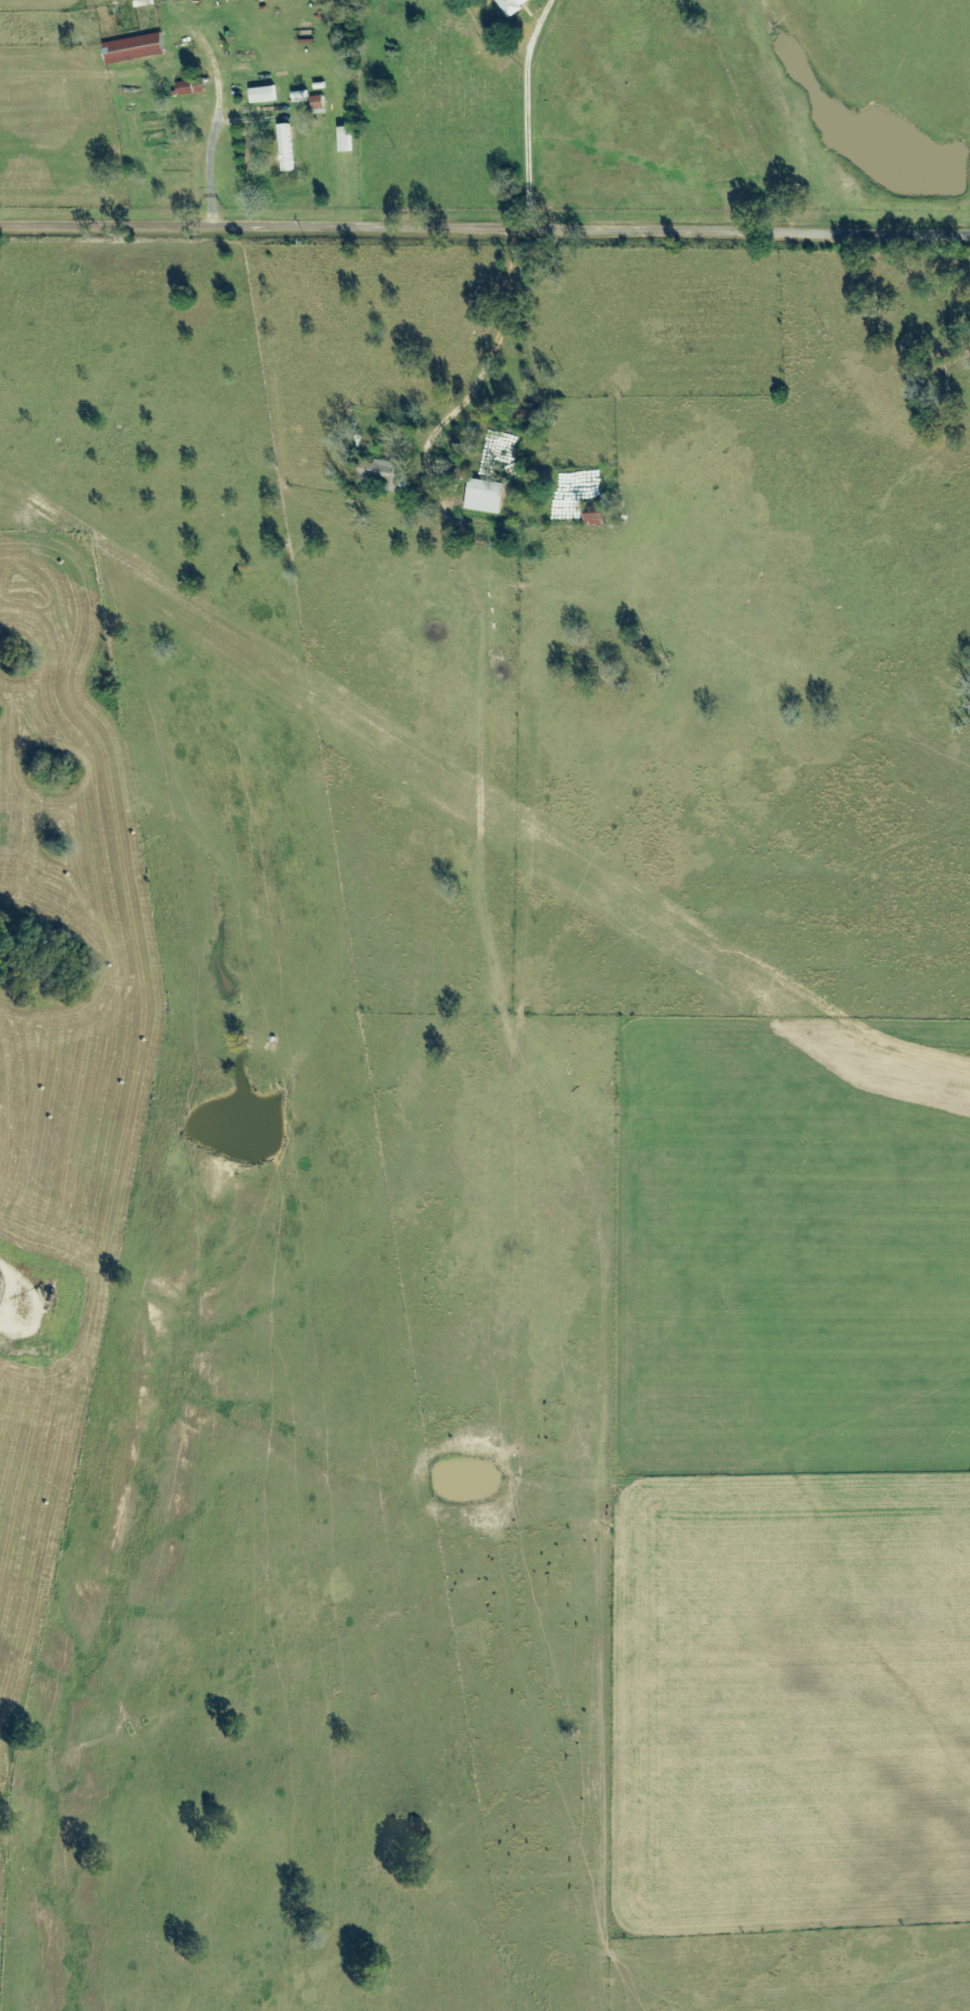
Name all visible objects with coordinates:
building: (509, 4)
building: (135, 43)
building: (194, 86)
building: (265, 90)
building: (299, 98)
building: (318, 106)
road: (527, 112)
road: (218, 115)
building: (349, 135)
building: (288, 144)
road: (485, 229)
building: (387, 474)
building: (484, 497)
building: (593, 520)

